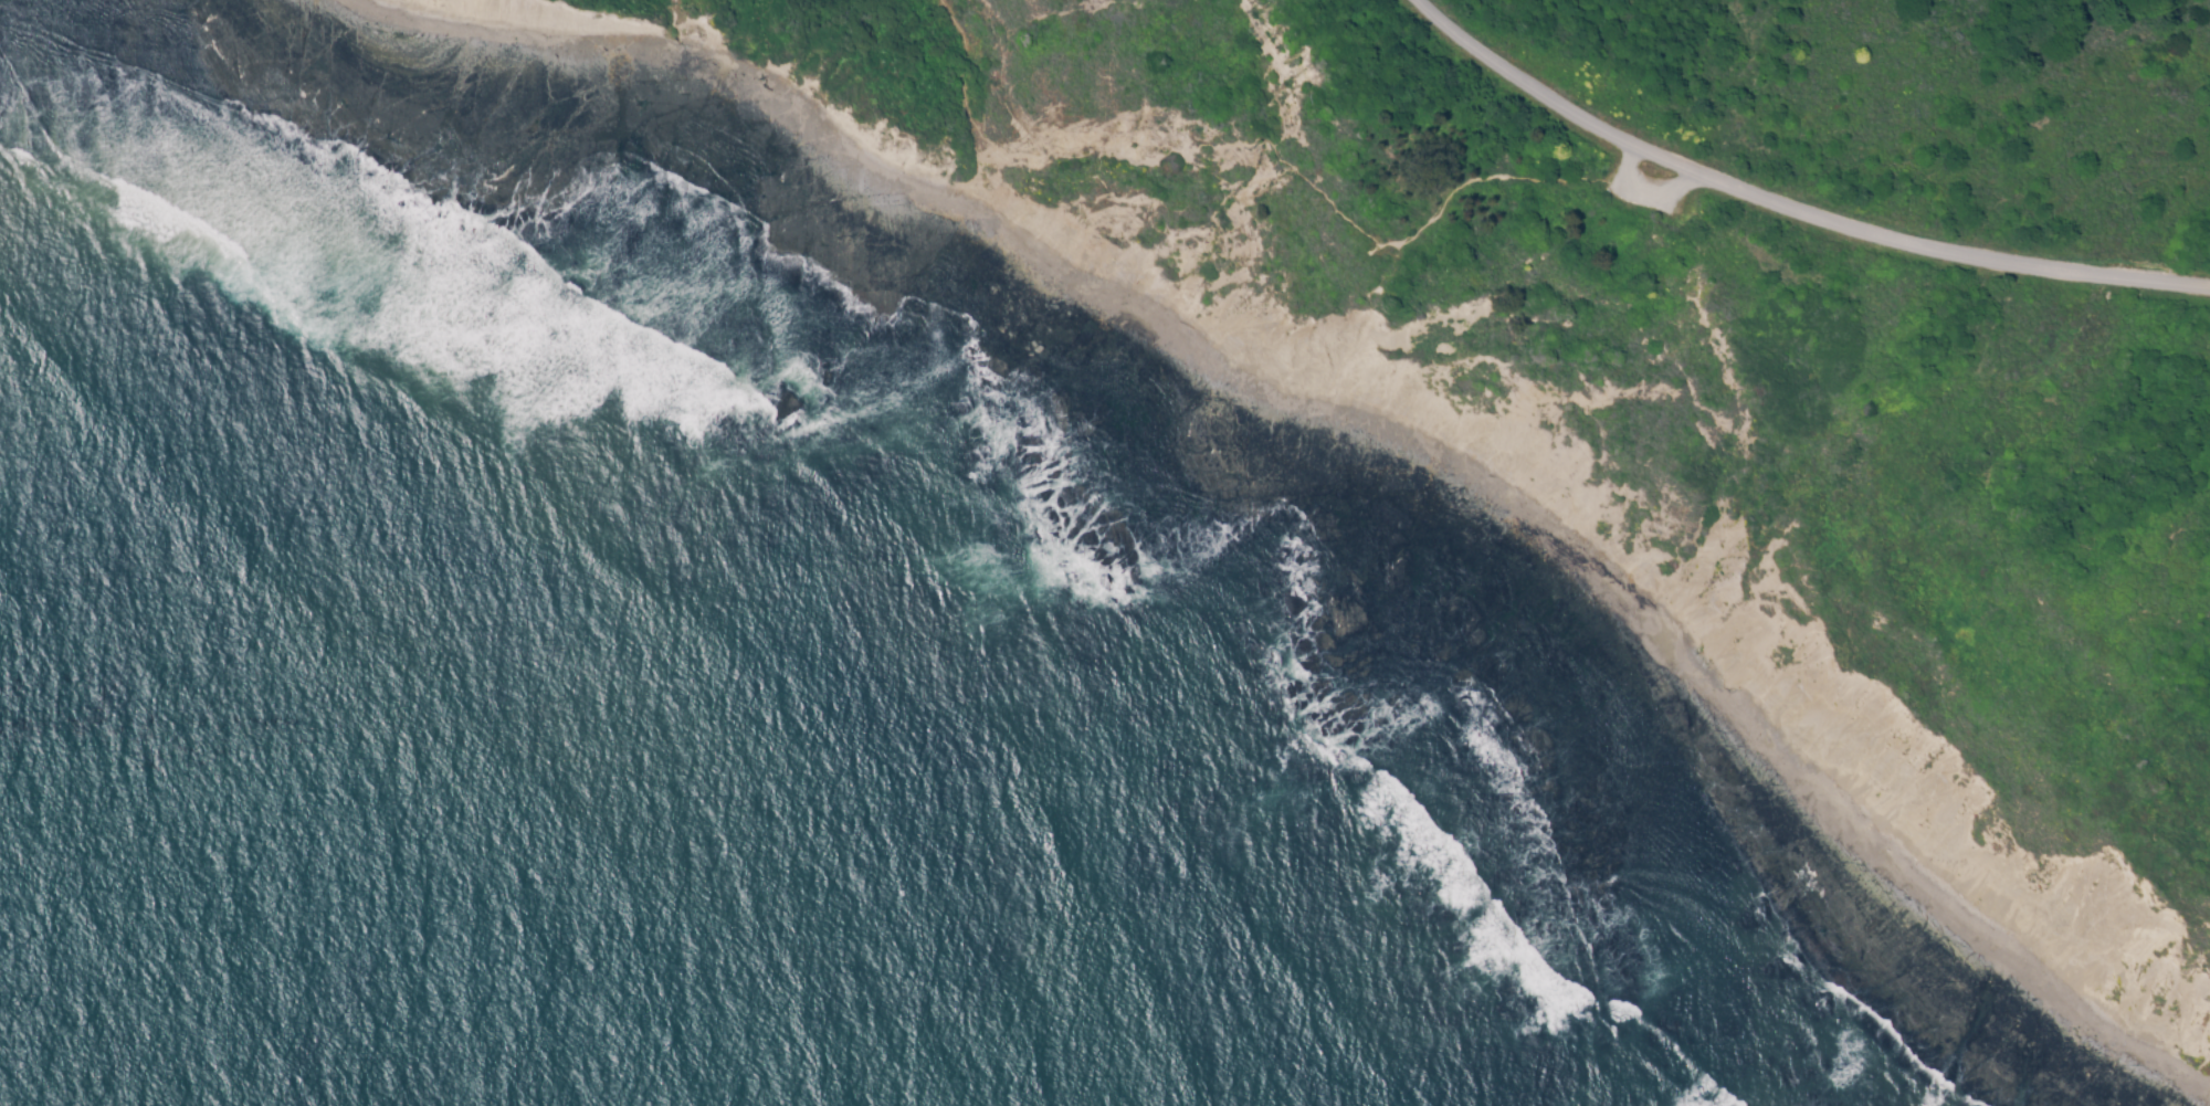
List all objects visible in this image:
road: (987, 89)
road: (1648, 192)
road: (1791, 207)

